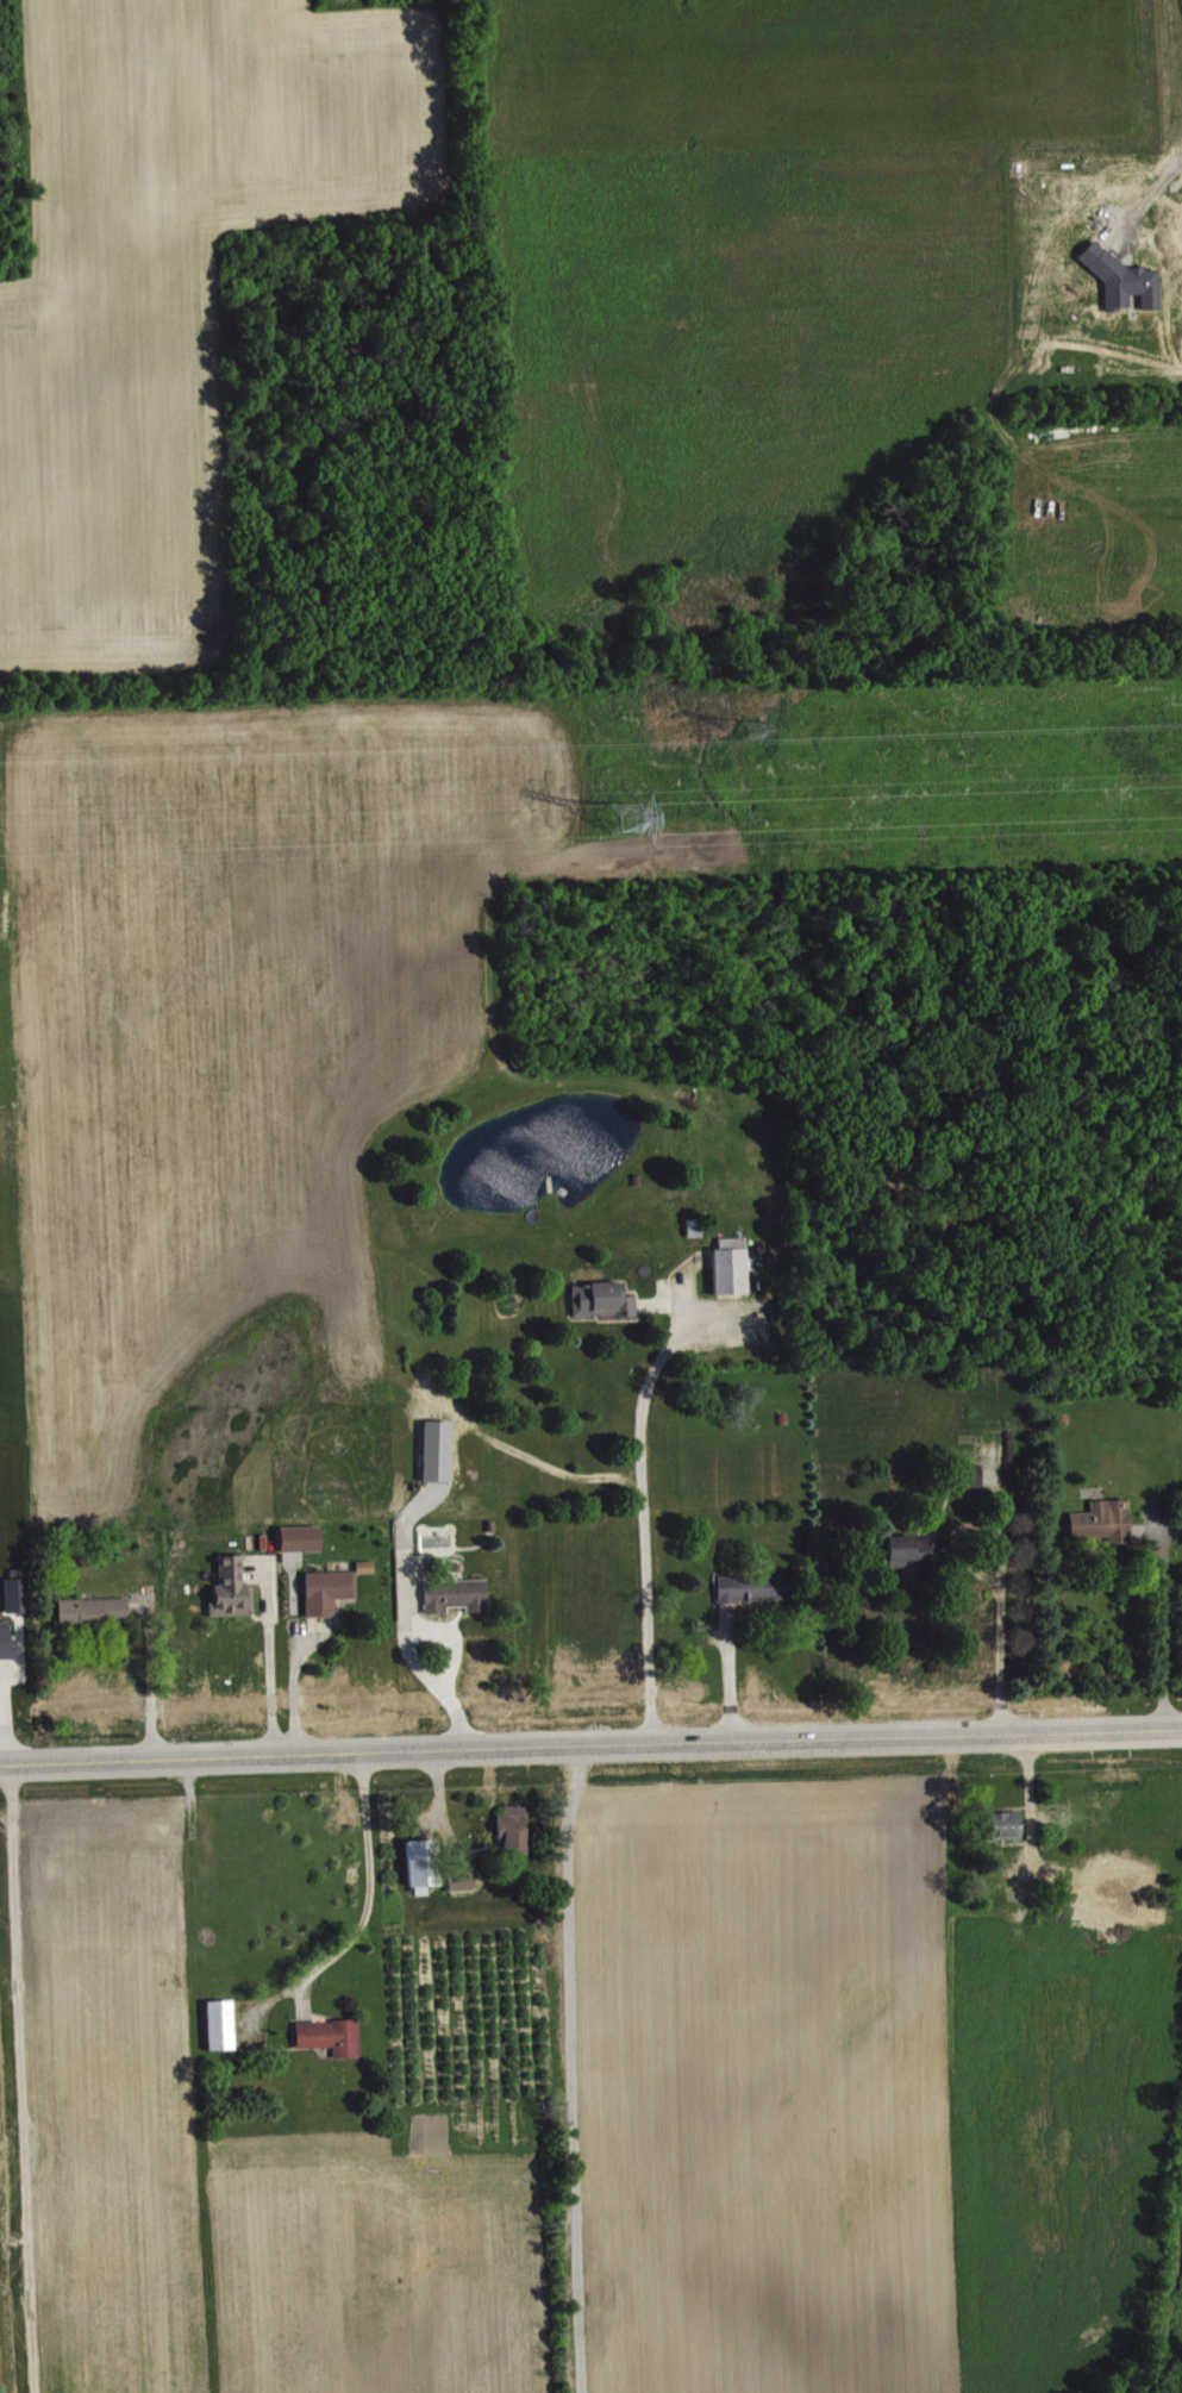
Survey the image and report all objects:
road: (1153, 193)
building: (1124, 280)
power tower: (748, 731)
power tower: (627, 818)
building: (732, 1267)
building: (603, 1300)
building: (974, 1475)
road: (649, 1519)
building: (1106, 1522)
building: (302, 1539)
building: (913, 1551)
building: (756, 1588)
building: (234, 1589)
building: (19, 1592)
building: (331, 1592)
building: (458, 1595)
building: (95, 1611)
road: (1165, 1631)
road: (1005, 1635)
building: (8, 1643)
road: (433, 1676)
road: (274, 1681)
road: (734, 1681)
road: (154, 1682)
road: (298, 1693)
road: (590, 1749)
building: (1008, 1826)
building: (515, 1832)
building: (424, 1863)
building: (463, 1880)
road: (374, 1885)
building: (223, 2025)
building: (333, 2037)
crop: (107, 2085)
crop: (848, 2089)
crop: (384, 2258)

